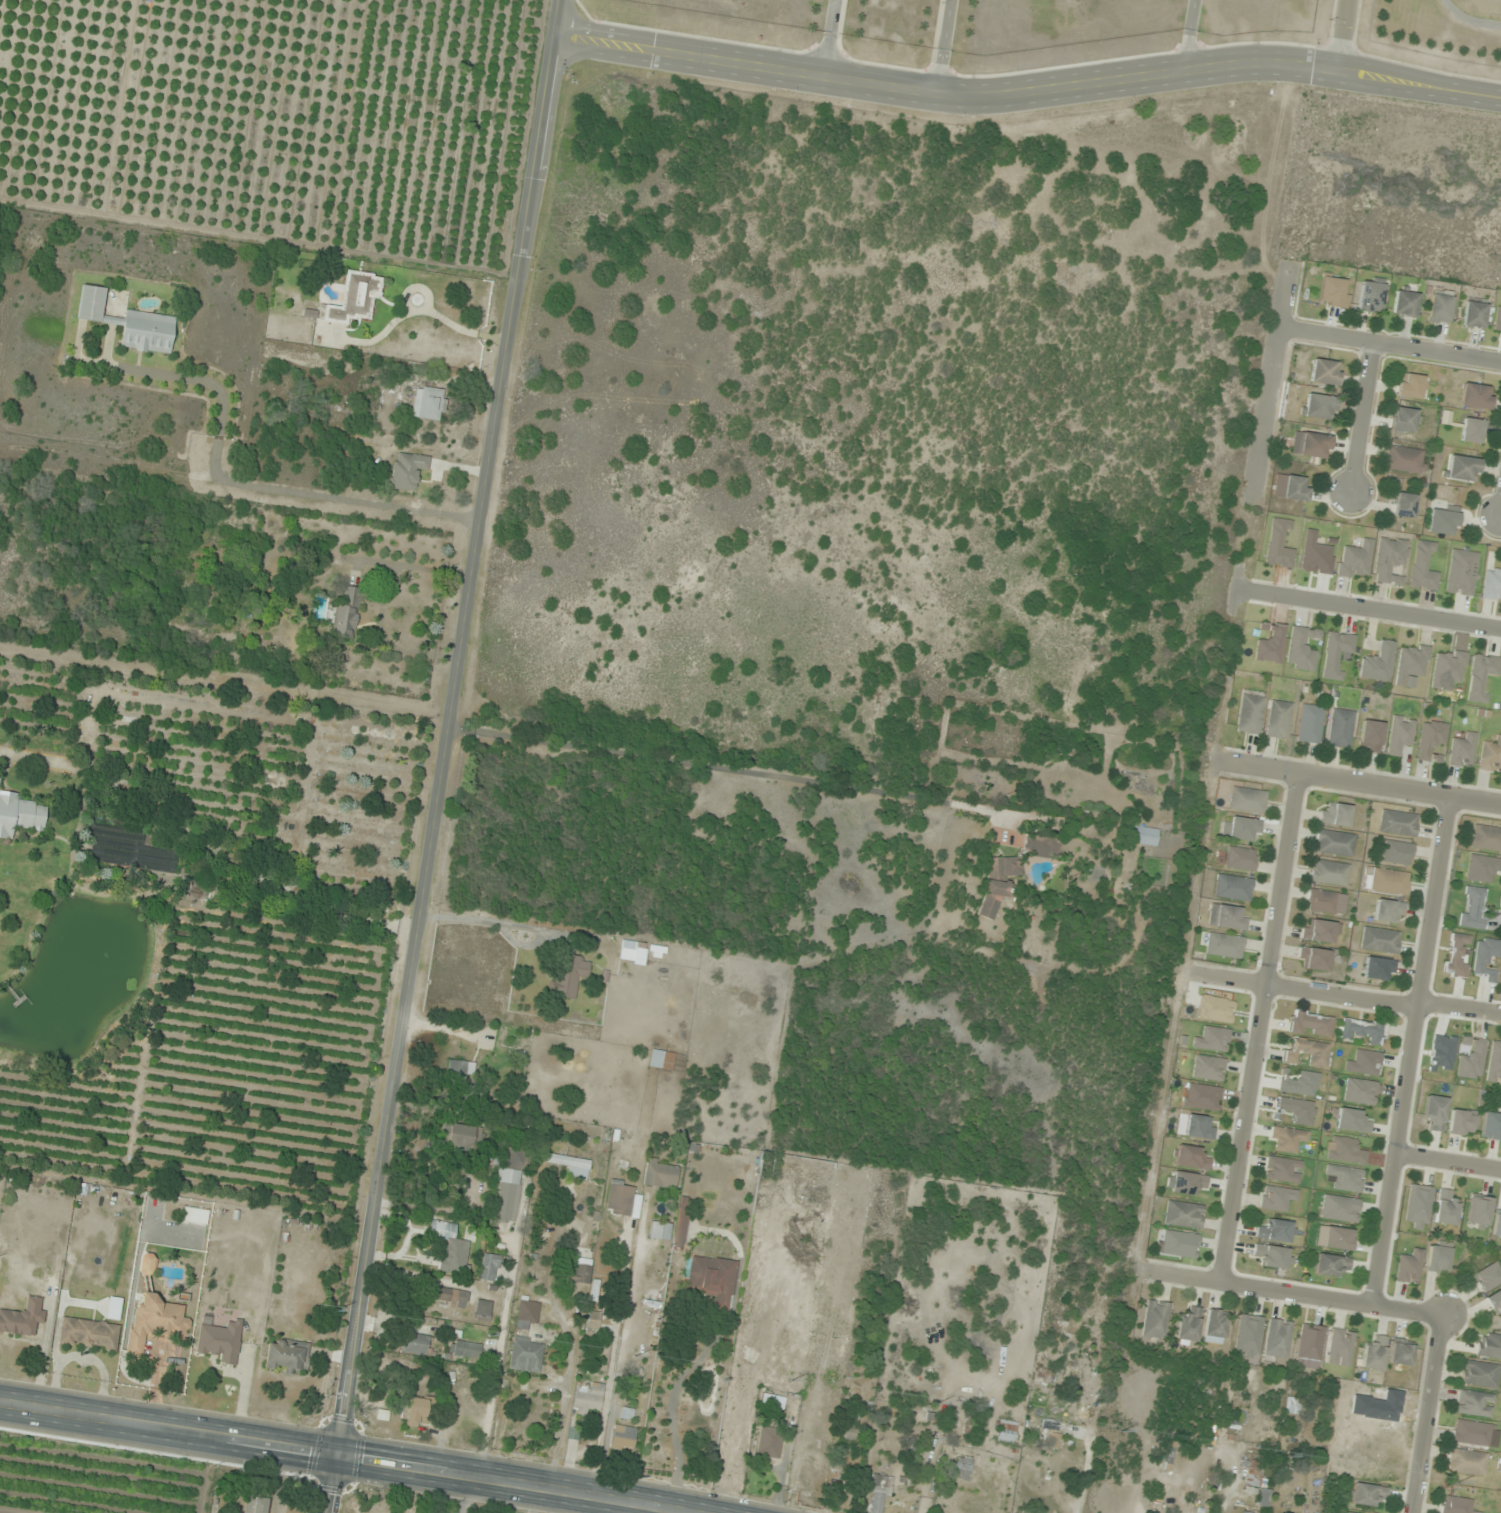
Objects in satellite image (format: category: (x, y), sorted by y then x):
road: (1189, 34)
road: (1341, 35)
road: (828, 38)
road: (943, 46)
road: (1027, 91)
building: (1332, 293)
building: (1370, 295)
building: (354, 299)
building: (1405, 302)
building: (1439, 307)
building: (1474, 313)
road: (428, 316)
building: (1498, 320)
building: (129, 323)
road: (1390, 345)
building: (1325, 372)
road: (1271, 384)
building: (1412, 386)
building: (1476, 396)
building: (430, 404)
building: (1319, 407)
road: (1362, 419)
building: (1405, 420)
building: (1472, 430)
building: (1311, 444)
building: (1405, 459)
building: (1462, 468)
building: (407, 470)
building: (1296, 488)
building: (1404, 505)
building: (1443, 520)
building: (1279, 545)
building: (1356, 560)
building: (1390, 560)
building: (1424, 567)
building: (1462, 572)
building: (1492, 583)
road: (1368, 610)
building: (347, 614)
building: (1271, 645)
building: (1302, 649)
building: (1336, 654)
building: (1378, 663)
building: (1411, 663)
building: (1448, 668)
building: (1481, 676)
building: (1251, 712)
building: (1279, 720)
building: (1310, 724)
road: (447, 727)
building: (1341, 728)
building: (1400, 734)
building: (1370, 736)
building: (1431, 741)
building: (1462, 751)
building: (1491, 756)
road: (1359, 785)
building: (1248, 800)
building: (1335, 814)
building: (21, 815)
building: (1398, 823)
building: (1241, 829)
building: (1145, 836)
building: (1486, 838)
building: (1334, 843)
building: (1041, 846)
building: (1397, 853)
building: (119, 858)
building: (1240, 859)
building: (154, 860)
building: (1003, 867)
building: (1482, 869)
building: (1330, 873)
building: (1386, 881)
building: (1234, 888)
building: (995, 897)
building: (1326, 902)
building: (1472, 908)
building: (1389, 912)
building: (1227, 917)
building: (1320, 932)
building: (1380, 941)
building: (1223, 945)
building: (633, 952)
building: (658, 952)
building: (1457, 955)
building: (1486, 958)
building: (1315, 959)
building: (1379, 969)
building: (569, 975)
road: (1344, 991)
building: (1310, 1024)
road: (1257, 1029)
building: (1363, 1032)
building: (1213, 1040)
building: (1306, 1052)
road: (1410, 1052)
building: (1472, 1059)
building: (661, 1060)
building: (1365, 1063)
building: (1495, 1063)
building: (1208, 1068)
building: (459, 1073)
building: (1299, 1083)
building: (1360, 1091)
building: (1202, 1097)
building: (1296, 1111)
building: (1435, 1112)
building: (1352, 1121)
building: (1461, 1123)
building: (1200, 1127)
building: (1491, 1127)
building: (464, 1137)
building: (1287, 1139)
building: (1346, 1151)
building: (1191, 1158)
building: (571, 1166)
road: (1448, 1166)
building: (1283, 1170)
building: (661, 1175)
building: (1346, 1178)
building: (1187, 1183)
building: (509, 1184)
building: (620, 1198)
building: (1277, 1198)
building: (1419, 1207)
building: (1340, 1209)
building: (1446, 1210)
building: (1479, 1211)
building: (1183, 1215)
building: (195, 1216)
building: (680, 1224)
building: (1497, 1225)
building: (1277, 1231)
building: (659, 1232)
building: (1338, 1239)
building: (1179, 1244)
building: (450, 1248)
building: (1274, 1257)
building: (1439, 1257)
building: (147, 1264)
building: (1330, 1265)
building: (489, 1268)
building: (1409, 1268)
building: (580, 1271)
building: (1487, 1277)
building: (711, 1278)
road: (1291, 1293)
building: (444, 1296)
building: (1495, 1301)
building: (482, 1311)
building: (526, 1314)
building: (23, 1318)
building: (1156, 1320)
building: (592, 1321)
building: (155, 1322)
building: (1189, 1326)
building: (1215, 1326)
building: (88, 1334)
building: (1248, 1335)
building: (1278, 1338)
building: (220, 1340)
building: (415, 1344)
building: (1489, 1345)
building: (1310, 1346)
building: (1341, 1347)
building: (465, 1349)
building: (1401, 1353)
building: (1375, 1354)
building: (526, 1355)
building: (287, 1356)
building: (1074, 1373)
building: (1042, 1374)
building: (1479, 1374)
building: (587, 1399)
building: (1474, 1404)
building: (1292, 1406)
building: (414, 1410)
road: (1430, 1414)
building: (1390, 1424)
road: (169, 1431)
building: (850, 1432)
building: (1006, 1432)
building: (1472, 1433)
building: (1048, 1434)
building: (623, 1438)
building: (768, 1444)
traffic signals: (338, 1456)
building: (1467, 1462)
building: (961, 1468)
road: (333, 1484)
road: (504, 1484)
building: (1258, 1484)
building: (811, 1485)
building: (879, 1494)
building: (1366, 1495)
building: (255, 1505)
building: (1456, 1505)
building: (1245, 1512)
building: (1345, 1512)

